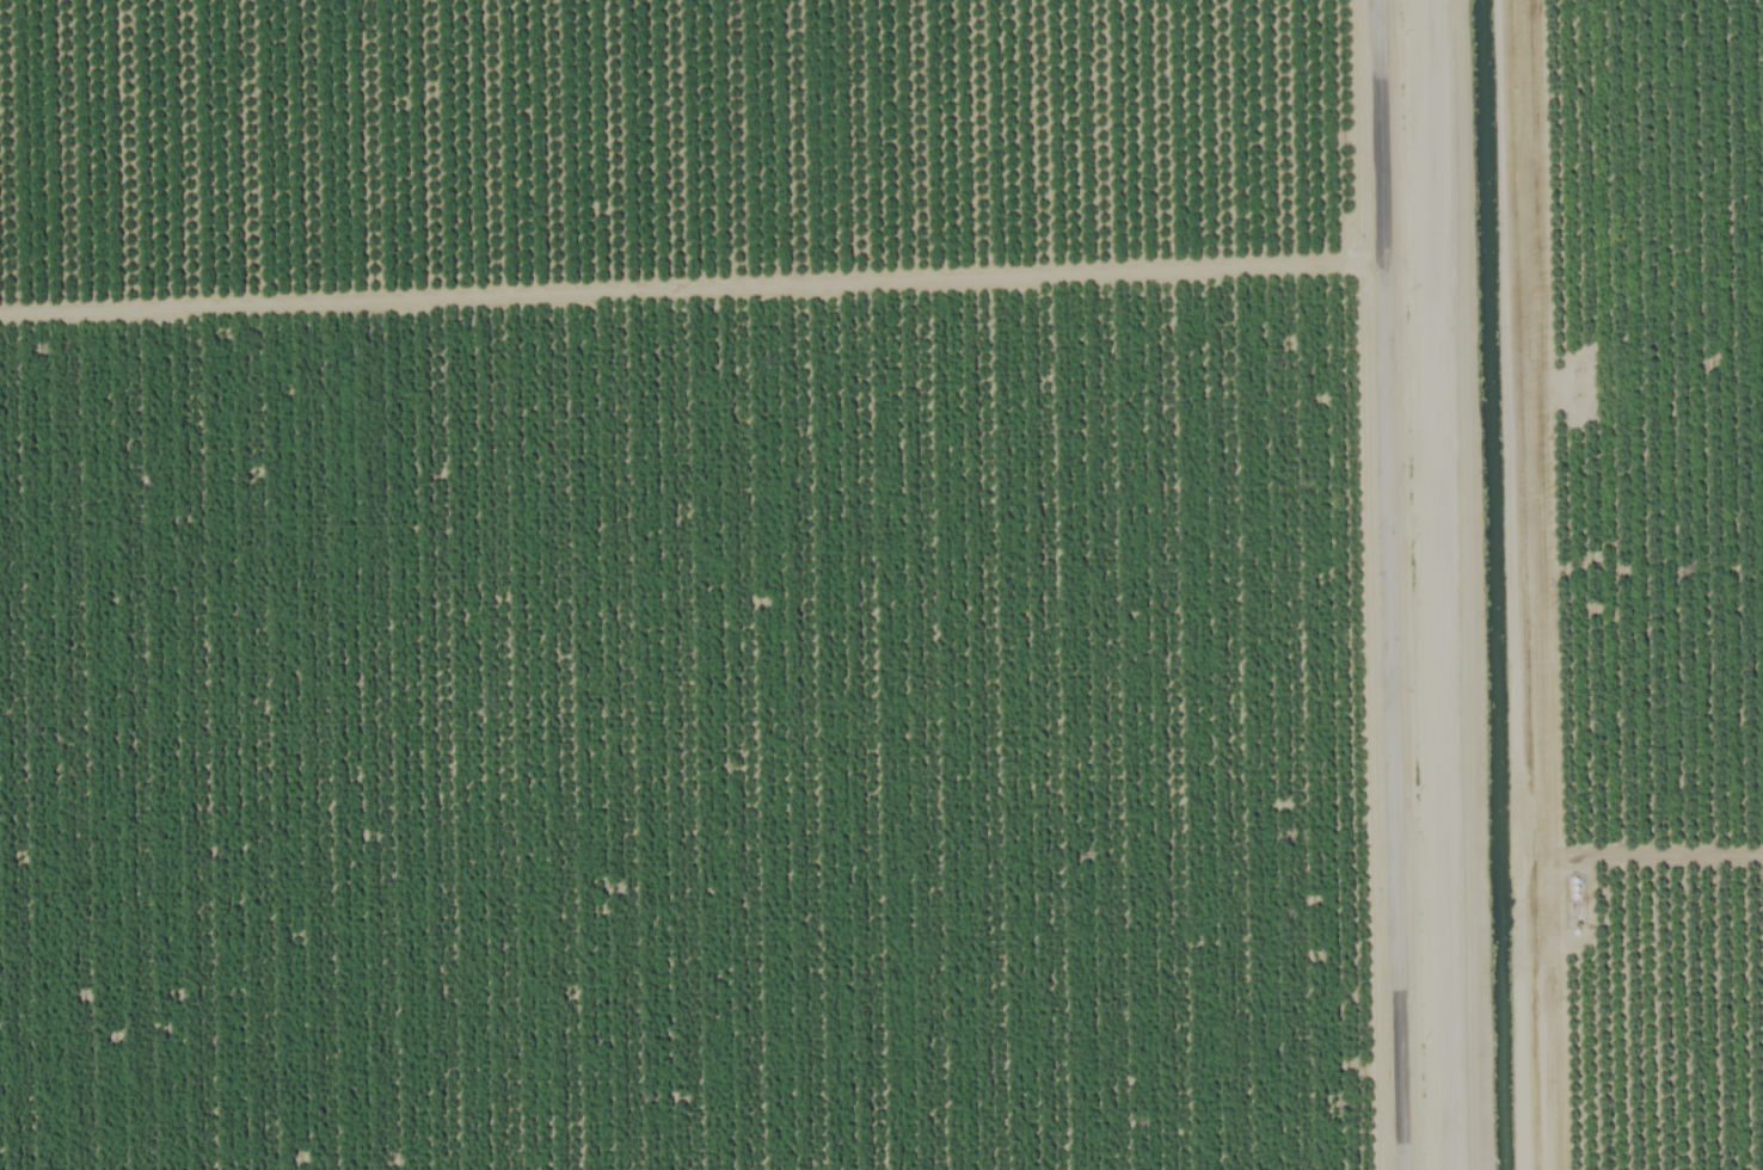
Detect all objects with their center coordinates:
road: (1392, 584)

